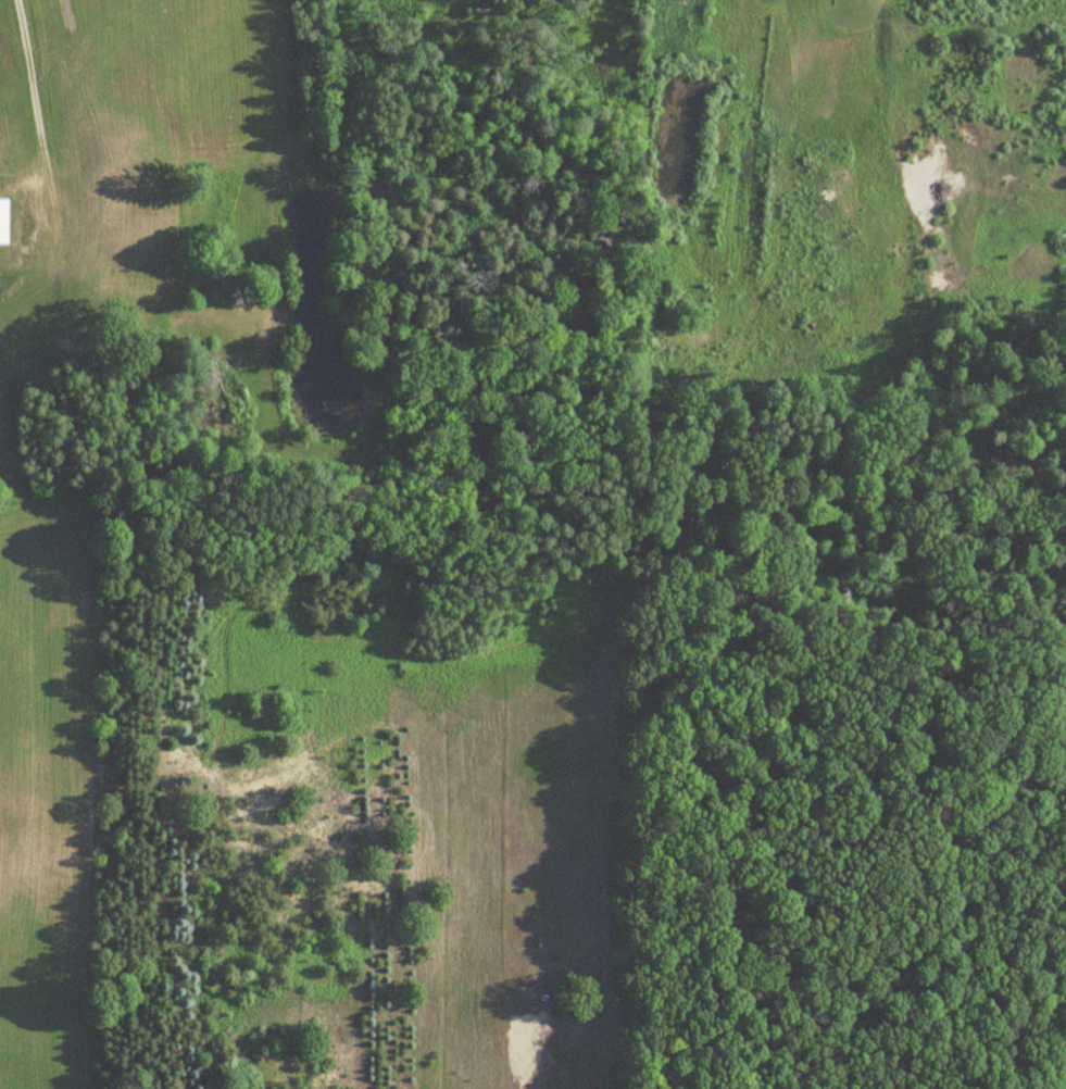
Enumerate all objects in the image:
park: (844, 179)
building: (1, 220)

